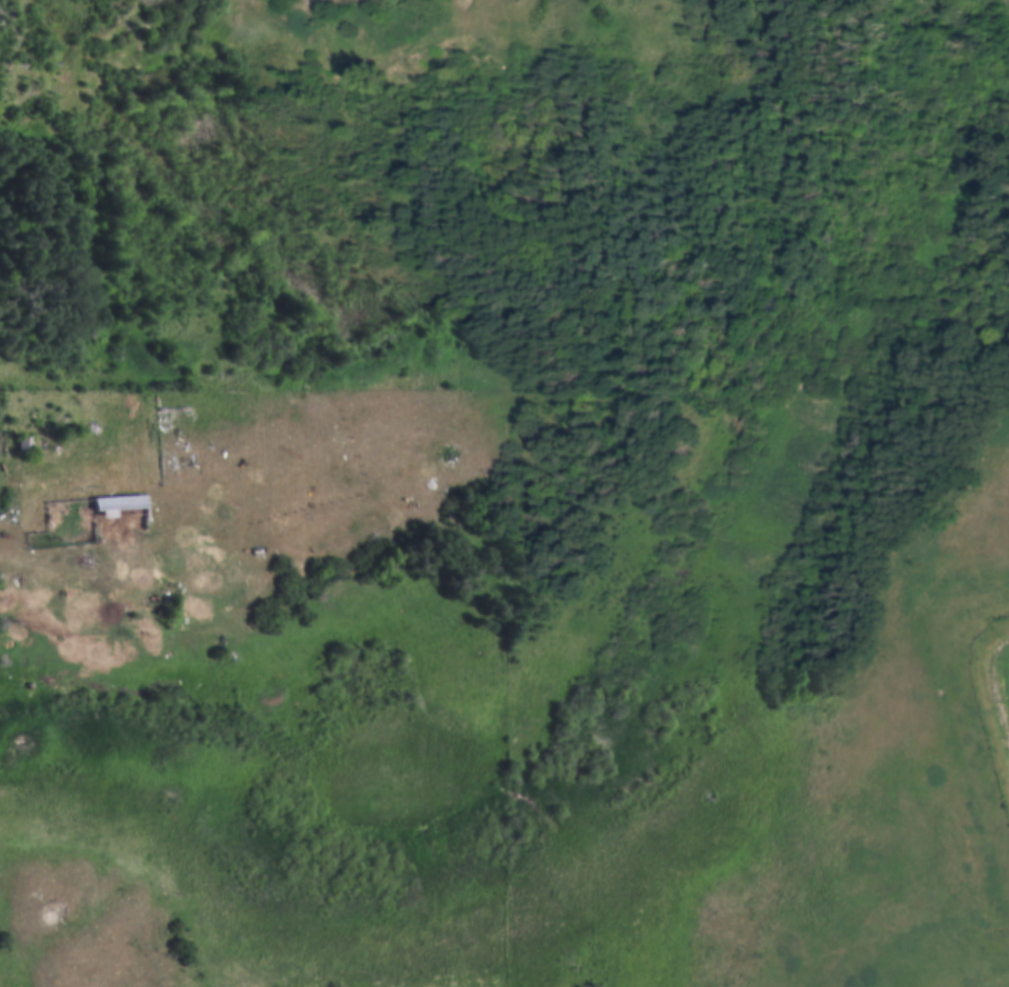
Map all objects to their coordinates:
building: (23, 441)
building: (115, 501)
road: (92, 583)

